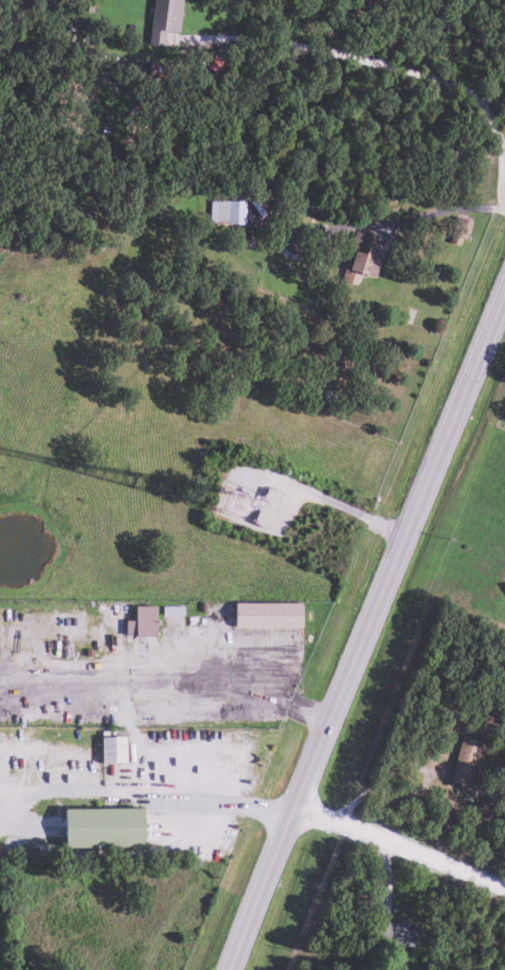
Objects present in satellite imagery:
building: (163, 20)
road: (387, 63)
building: (226, 213)
road: (413, 216)
building: (458, 232)
building: (360, 259)
road: (318, 498)
building: (264, 508)
building: (265, 615)
building: (138, 622)
road: (365, 627)
road: (192, 680)
building: (111, 749)
building: (67, 758)
building: (463, 764)
road: (212, 801)
building: (98, 828)
road: (398, 846)
building: (395, 933)

